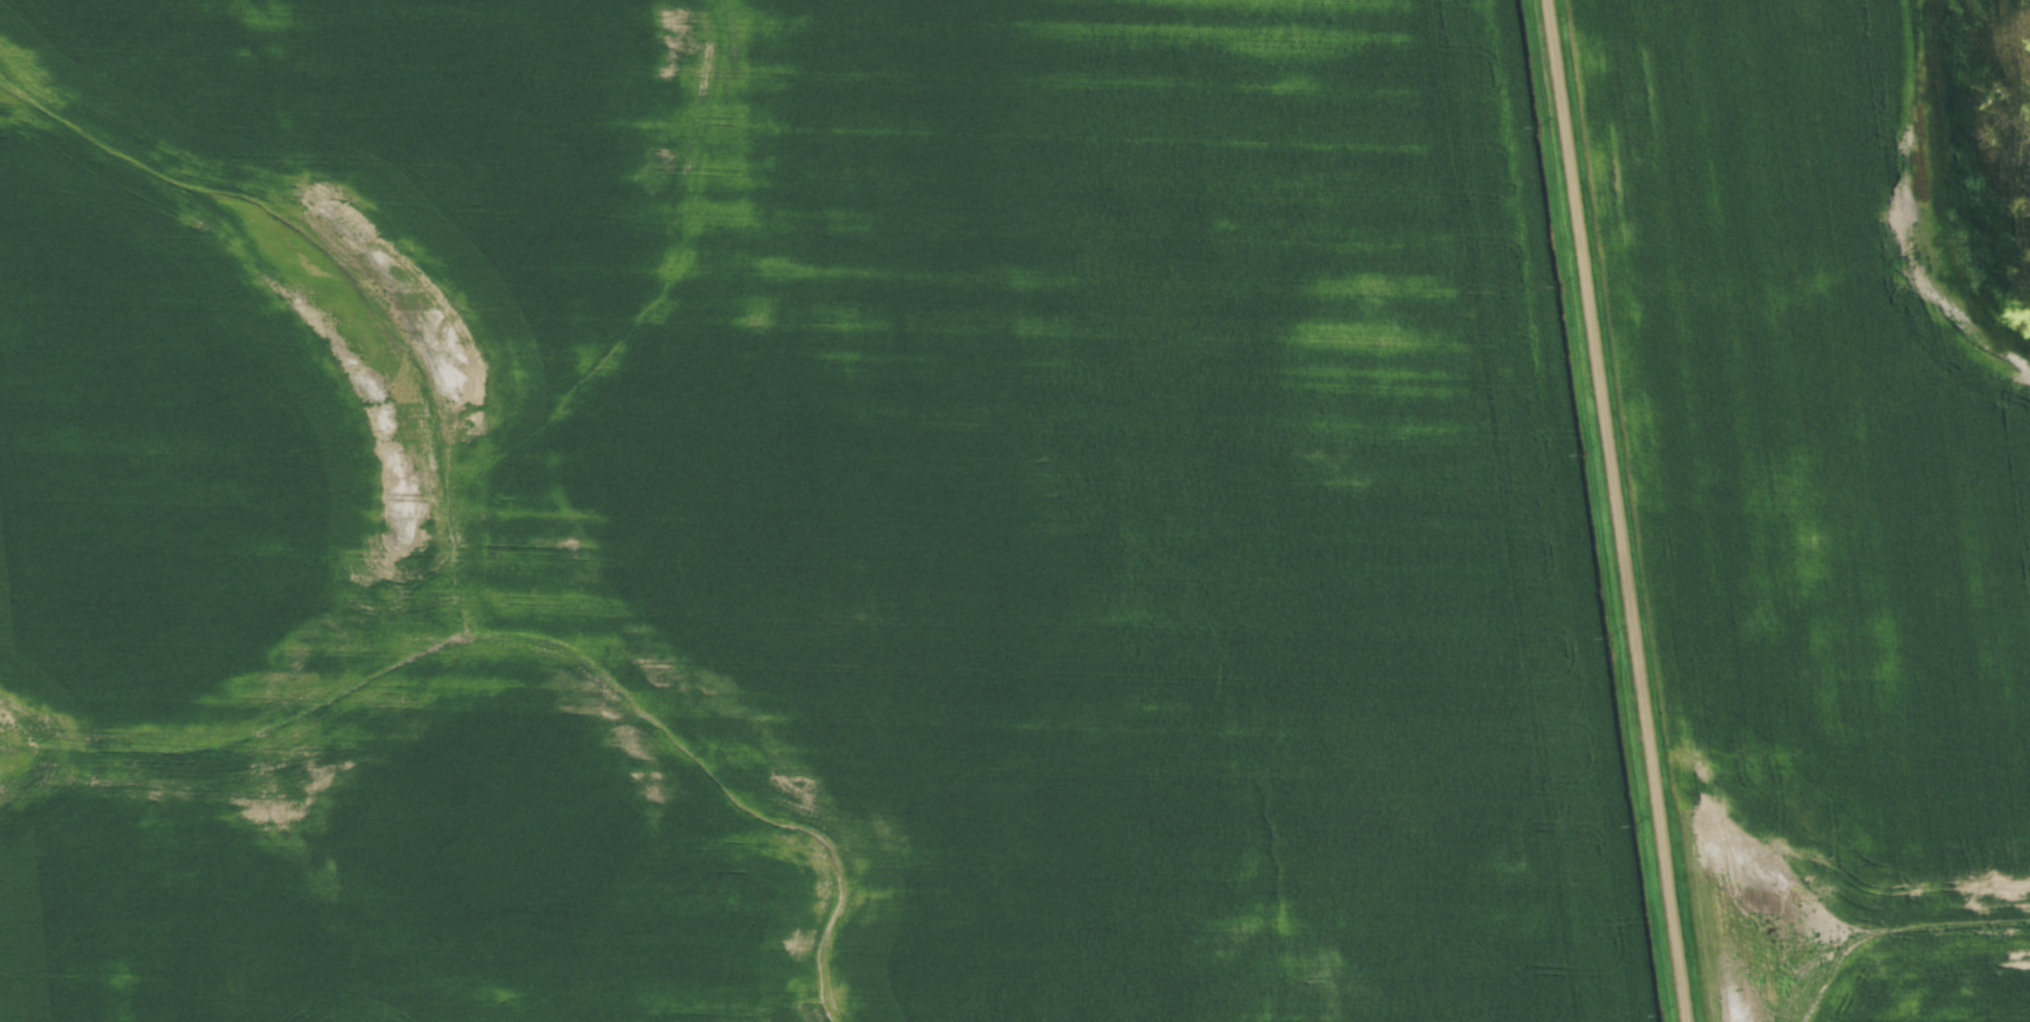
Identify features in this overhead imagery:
road: (1617, 511)

